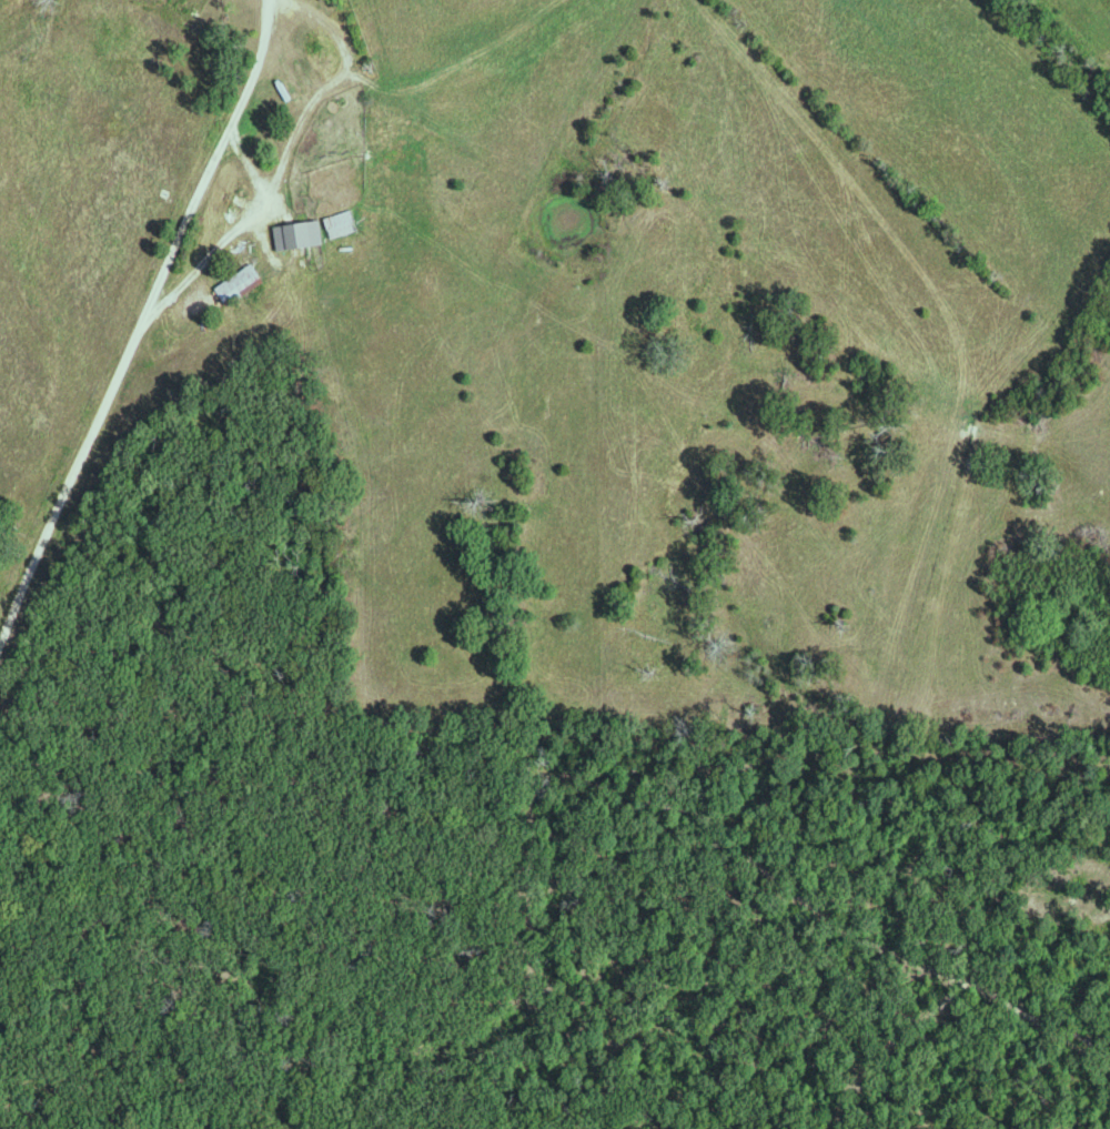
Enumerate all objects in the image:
building: (302, 232)
building: (242, 282)
road: (141, 323)

